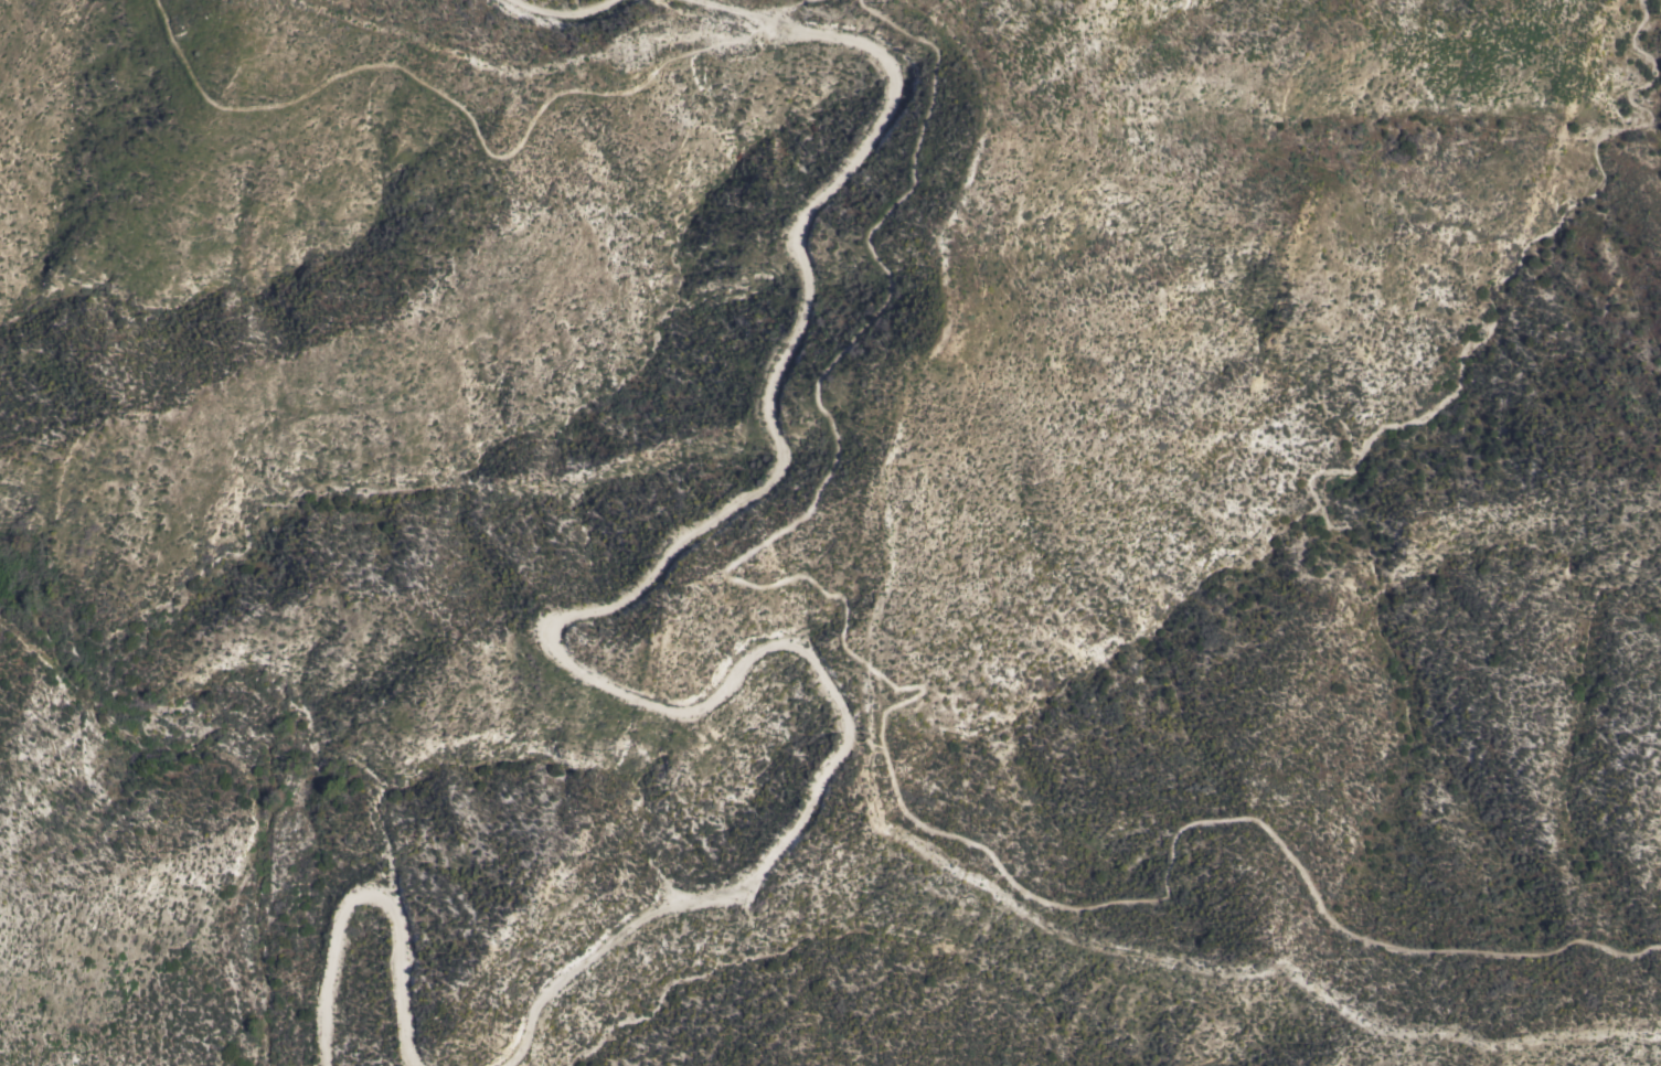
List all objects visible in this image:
road: (566, 11)
road: (469, 120)
road: (563, 631)
road: (893, 704)
road: (376, 892)

